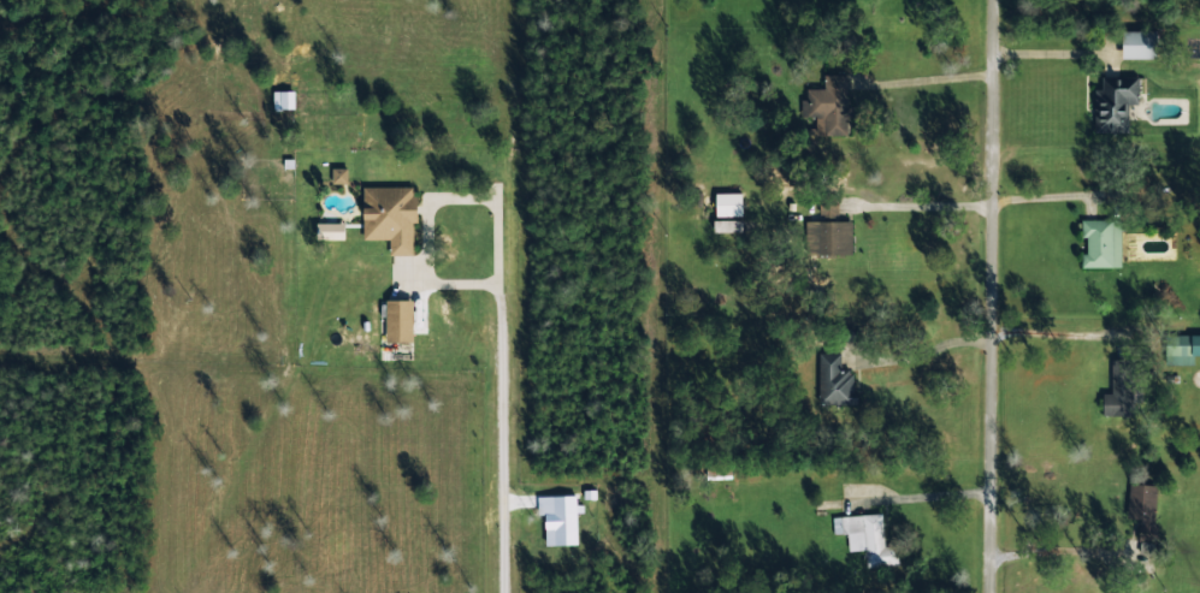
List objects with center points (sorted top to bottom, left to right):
building: (1139, 43)
building: (283, 99)
building: (1113, 101)
building: (828, 106)
building: (339, 174)
building: (727, 203)
building: (390, 215)
building: (727, 225)
building: (325, 230)
building: (834, 230)
building: (1101, 242)
road: (1000, 296)
building: (398, 320)
building: (835, 380)
building: (1119, 389)
building: (1141, 512)
building: (563, 518)
building: (865, 538)

